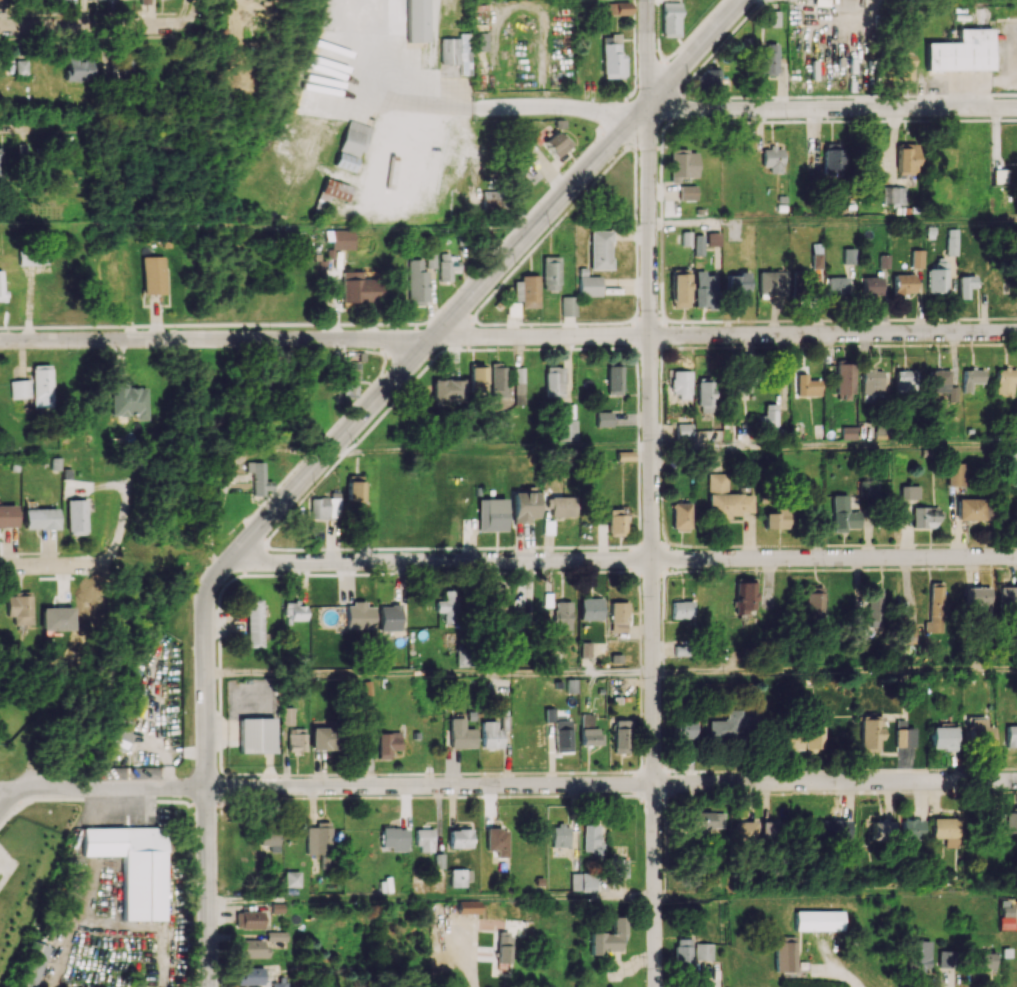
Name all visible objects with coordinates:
building: (144, 1)
building: (617, 8)
road: (192, 9)
building: (770, 18)
building: (670, 19)
building: (417, 20)
road: (93, 23)
building: (480, 41)
building: (961, 51)
building: (456, 52)
road: (695, 53)
building: (612, 56)
building: (768, 59)
building: (21, 67)
building: (906, 67)
building: (79, 68)
building: (120, 68)
building: (709, 76)
road: (533, 108)
road: (831, 108)
road: (31, 123)
building: (354, 137)
building: (556, 143)
building: (24, 151)
building: (832, 158)
building: (907, 158)
building: (773, 159)
building: (868, 159)
building: (344, 161)
building: (683, 163)
building: (1000, 175)
building: (687, 192)
building: (331, 193)
building: (894, 195)
building: (490, 199)
road: (538, 221)
road: (833, 222)
building: (341, 239)
building: (712, 239)
building: (952, 241)
building: (699, 244)
building: (600, 249)
building: (677, 255)
building: (816, 255)
building: (848, 256)
building: (917, 258)
building: (33, 260)
building: (430, 260)
building: (884, 261)
building: (448, 266)
building: (551, 273)
building: (153, 275)
building: (111, 277)
building: (804, 277)
building: (938, 278)
building: (417, 282)
building: (771, 282)
building: (904, 284)
building: (1, 285)
building: (589, 286)
building: (737, 286)
building: (836, 286)
building: (966, 286)
building: (872, 287)
building: (359, 288)
building: (680, 288)
building: (704, 289)
building: (526, 291)
building: (568, 305)
road: (724, 334)
road: (215, 339)
building: (972, 378)
building: (351, 379)
building: (477, 379)
building: (614, 379)
building: (905, 380)
building: (498, 381)
building: (554, 381)
building: (845, 381)
building: (1006, 382)
building: (681, 383)
building: (871, 383)
building: (943, 383)
building: (742, 384)
building: (519, 385)
building: (41, 386)
building: (807, 386)
building: (20, 388)
building: (447, 390)
building: (705, 396)
building: (128, 400)
building: (566, 411)
building: (604, 419)
building: (768, 419)
building: (567, 430)
building: (684, 431)
building: (849, 432)
road: (334, 446)
road: (834, 446)
road: (580, 448)
building: (956, 474)
building: (258, 479)
building: (869, 490)
building: (354, 491)
building: (909, 492)
road: (651, 493)
building: (726, 498)
building: (524, 504)
building: (324, 507)
building: (557, 508)
building: (970, 509)
building: (492, 514)
building: (844, 514)
building: (681, 516)
building: (76, 517)
building: (40, 518)
building: (777, 518)
building: (925, 518)
building: (8, 521)
building: (615, 522)
road: (120, 524)
road: (625, 559)
road: (52, 563)
building: (1007, 597)
building: (498, 598)
building: (745, 598)
building: (980, 600)
building: (814, 602)
building: (874, 603)
building: (450, 605)
building: (19, 607)
building: (591, 608)
building: (935, 608)
building: (681, 609)
building: (294, 611)
building: (359, 615)
building: (618, 616)
building: (389, 617)
building: (564, 617)
building: (56, 618)
building: (253, 623)
building: (909, 632)
building: (585, 649)
road: (835, 670)
road: (428, 673)
building: (287, 716)
building: (733, 725)
building: (683, 729)
building: (589, 730)
building: (560, 731)
building: (871, 731)
building: (814, 732)
building: (981, 733)
building: (461, 734)
building: (256, 735)
building: (491, 735)
building: (1011, 735)
building: (620, 736)
building: (906, 737)
building: (119, 738)
building: (320, 738)
building: (788, 738)
building: (943, 738)
building: (296, 739)
building: (387, 743)
road: (206, 764)
building: (111, 772)
building: (145, 772)
road: (611, 783)
road: (113, 787)
road: (10, 788)
road: (10, 799)
building: (1008, 821)
building: (703, 822)
building: (912, 828)
building: (834, 829)
building: (882, 829)
building: (773, 830)
building: (948, 830)
building: (746, 831)
building: (560, 835)
building: (270, 838)
building: (319, 838)
building: (394, 838)
building: (460, 838)
building: (591, 838)
building: (425, 840)
building: (498, 841)
building: (134, 866)
building: (618, 867)
building: (292, 879)
building: (583, 882)
road: (836, 894)
road: (432, 899)
building: (468, 907)
building: (1007, 917)
building: (249, 919)
building: (818, 920)
building: (276, 936)
building: (608, 937)
building: (505, 947)
building: (250, 948)
building: (703, 951)
building: (682, 952)
building: (919, 954)
building: (784, 955)
building: (944, 958)
building: (985, 960)
building: (32, 964)
building: (250, 976)

